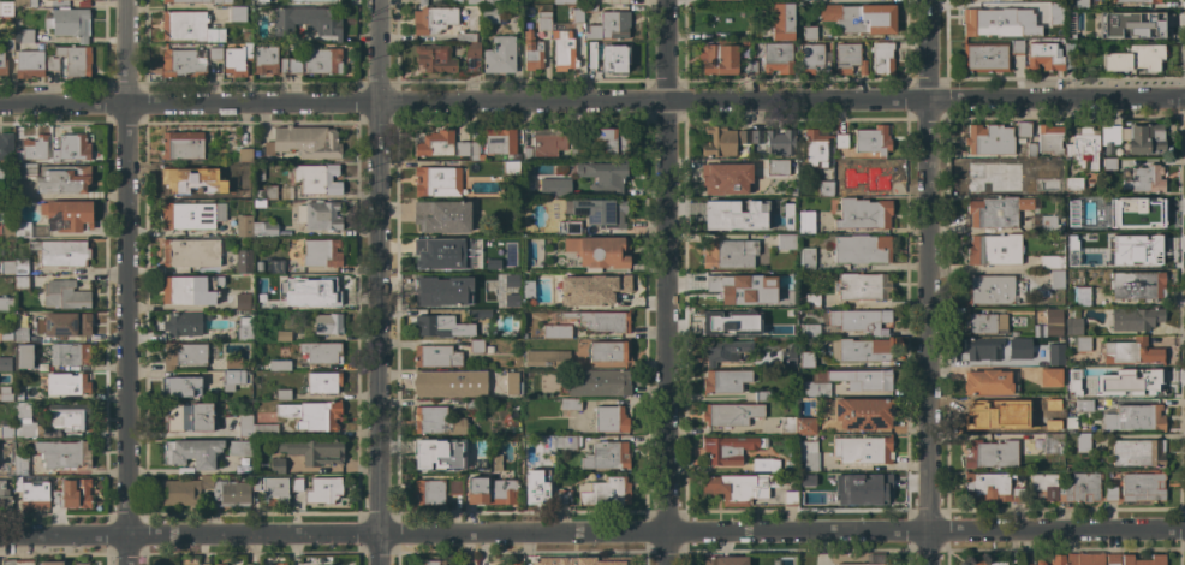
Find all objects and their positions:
building: (58, 0)
building: (318, 0)
building: (732, 0)
building: (810, 0)
building: (995, 0)
building: (193, 1)
building: (486, 1)
building: (564, 1)
building: (1138, 1)
building: (25, 2)
building: (281, 2)
building: (422, 2)
building: (82, 4)
building: (1080, 4)
building: (590, 8)
building: (6, 12)
building: (489, 16)
building: (577, 16)
building: (1082, 16)
building: (857, 17)
building: (306, 20)
building: (430, 20)
building: (543, 20)
building: (781, 22)
building: (990, 22)
building: (69, 23)
building: (189, 26)
building: (609, 26)
building: (1137, 26)
building: (1102, 29)
building: (809, 32)
building: (25, 36)
building: (246, 36)
building: (1067, 44)
building: (8, 46)
building: (1104, 46)
building: (1016, 47)
building: (564, 50)
building: (588, 50)
road: (665, 50)
road: (924, 50)
road: (375, 52)
building: (531, 52)
road: (124, 53)
building: (214, 54)
building: (500, 55)
building: (612, 55)
building: (471, 56)
building: (984, 56)
building: (1044, 56)
building: (719, 58)
building: (882, 58)
building: (1133, 58)
building: (264, 59)
building: (434, 59)
building: (776, 59)
building: (847, 59)
building: (75, 60)
building: (236, 60)
building: (814, 60)
building: (316, 61)
building: (50, 63)
building: (183, 63)
building: (2, 64)
building: (29, 64)
building: (282, 66)
building: (750, 66)
road: (591, 102)
building: (1023, 129)
building: (756, 136)
building: (744, 137)
building: (1109, 138)
building: (1144, 138)
building: (1049, 139)
building: (841, 141)
building: (873, 141)
building: (989, 141)
building: (304, 142)
building: (499, 142)
building: (547, 142)
building: (719, 142)
building: (780, 142)
building: (435, 144)
building: (601, 144)
building: (181, 145)
building: (1083, 145)
building: (6, 147)
building: (72, 147)
building: (816, 147)
building: (31, 148)
building: (462, 149)
building: (1030, 150)
building: (475, 151)
building: (244, 154)
building: (526, 154)
building: (1108, 163)
building: (778, 167)
building: (510, 168)
building: (25, 169)
building: (244, 172)
building: (1, 173)
building: (257, 173)
building: (868, 174)
building: (993, 174)
building: (603, 176)
building: (719, 178)
building: (62, 179)
building: (317, 179)
building: (1144, 179)
building: (437, 182)
building: (192, 183)
building: (1073, 184)
building: (555, 186)
building: (824, 188)
building: (839, 188)
building: (1050, 188)
building: (2, 191)
building: (267, 192)
building: (791, 203)
building: (1082, 203)
building: (773, 204)
building: (599, 212)
building: (990, 212)
building: (863, 214)
building: (66, 215)
building: (191, 215)
building: (318, 215)
building: (1138, 215)
building: (441, 216)
building: (725, 218)
building: (805, 222)
building: (1048, 224)
building: (244, 226)
building: (568, 227)
building: (263, 228)
building: (6, 231)
building: (28, 231)
building: (786, 242)
building: (1136, 248)
building: (859, 249)
building: (994, 250)
building: (599, 251)
building: (60, 252)
building: (190, 252)
building: (321, 252)
building: (442, 254)
building: (728, 254)
building: (806, 258)
building: (243, 261)
building: (1050, 262)
building: (1082, 262)
building: (258, 266)
building: (276, 266)
building: (20, 267)
building: (6, 268)
building: (764, 278)
building: (1056, 279)
building: (483, 281)
building: (20, 282)
building: (1137, 286)
building: (603, 287)
building: (864, 287)
building: (318, 289)
building: (190, 290)
building: (990, 290)
building: (727, 292)
building: (64, 295)
building: (437, 295)
building: (1082, 296)
building: (812, 301)
building: (242, 302)
building: (281, 302)
building: (549, 302)
building: (6, 303)
building: (475, 304)
building: (477, 314)
building: (1135, 319)
building: (600, 320)
building: (1053, 321)
building: (723, 322)
building: (61, 323)
building: (181, 323)
building: (327, 323)
building: (846, 323)
building: (985, 323)
building: (1073, 323)
building: (441, 326)
building: (244, 328)
building: (770, 329)
building: (555, 331)
building: (6, 333)
road: (663, 333)
road: (925, 333)
building: (20, 334)
building: (282, 334)
road: (375, 334)
road: (124, 335)
building: (1082, 344)
building: (476, 346)
building: (489, 349)
building: (996, 349)
building: (864, 350)
building: (608, 351)
building: (723, 351)
building: (321, 352)
building: (1131, 352)
building: (71, 353)
building: (183, 355)
building: (1055, 355)
building: (24, 356)
building: (436, 356)
building: (787, 357)
building: (547, 358)
building: (806, 359)
building: (232, 362)
building: (5, 364)
building: (279, 365)
building: (1074, 375)
building: (1049, 376)
building: (232, 379)
building: (862, 379)
building: (725, 381)
building: (322, 382)
building: (987, 382)
building: (62, 383)
building: (448, 383)
building: (512, 383)
building: (600, 383)
building: (1135, 383)
building: (180, 387)
building: (814, 388)
building: (282, 393)
building: (6, 394)
building: (19, 395)
building: (761, 395)
building: (570, 404)
building: (1082, 404)
building: (475, 405)
building: (505, 405)
building: (1053, 406)
building: (864, 412)
building: (731, 414)
building: (69, 416)
building: (187, 416)
building: (318, 416)
building: (990, 416)
building: (1135, 417)
building: (609, 418)
building: (437, 421)
building: (25, 422)
building: (787, 424)
building: (245, 426)
building: (805, 426)
building: (263, 430)
building: (6, 432)
building: (478, 442)
building: (566, 442)
building: (1082, 442)
building: (1053, 444)
building: (547, 445)
building: (239, 447)
building: (730, 448)
building: (863, 450)
building: (312, 451)
building: (1137, 452)
building: (191, 453)
building: (990, 453)
building: (62, 454)
building: (606, 456)
building: (433, 457)
building: (810, 457)
building: (788, 464)
building: (20, 465)
building: (275, 465)
building: (764, 465)
building: (4, 468)
building: (816, 478)
building: (207, 482)
building: (256, 483)
building: (453, 487)
building: (739, 487)
building: (984, 487)
building: (1142, 487)
building: (865, 488)
building: (1044, 488)
building: (1083, 488)
building: (296, 489)
building: (535, 489)
building: (32, 490)
building: (274, 490)
building: (322, 490)
building: (490, 490)
building: (180, 492)
building: (230, 492)
building: (429, 492)
building: (603, 492)
building: (72, 493)
building: (1109, 494)
building: (1017, 495)
building: (4, 496)
building: (562, 498)
building: (790, 499)
road: (592, 530)
building: (1058, 559)
building: (1083, 559)
building: (1112, 559)
building: (582, 560)
building: (725, 560)
building: (1143, 560)
building: (17, 561)
building: (50, 563)
building: (430, 563)
building: (988, 563)
building: (1040, 563)
building: (82, 564)
building: (219, 564)
building: (249, 564)
building: (279, 564)
building: (499, 564)
building: (513, 564)
building: (864, 564)
building: (1029, 564)

